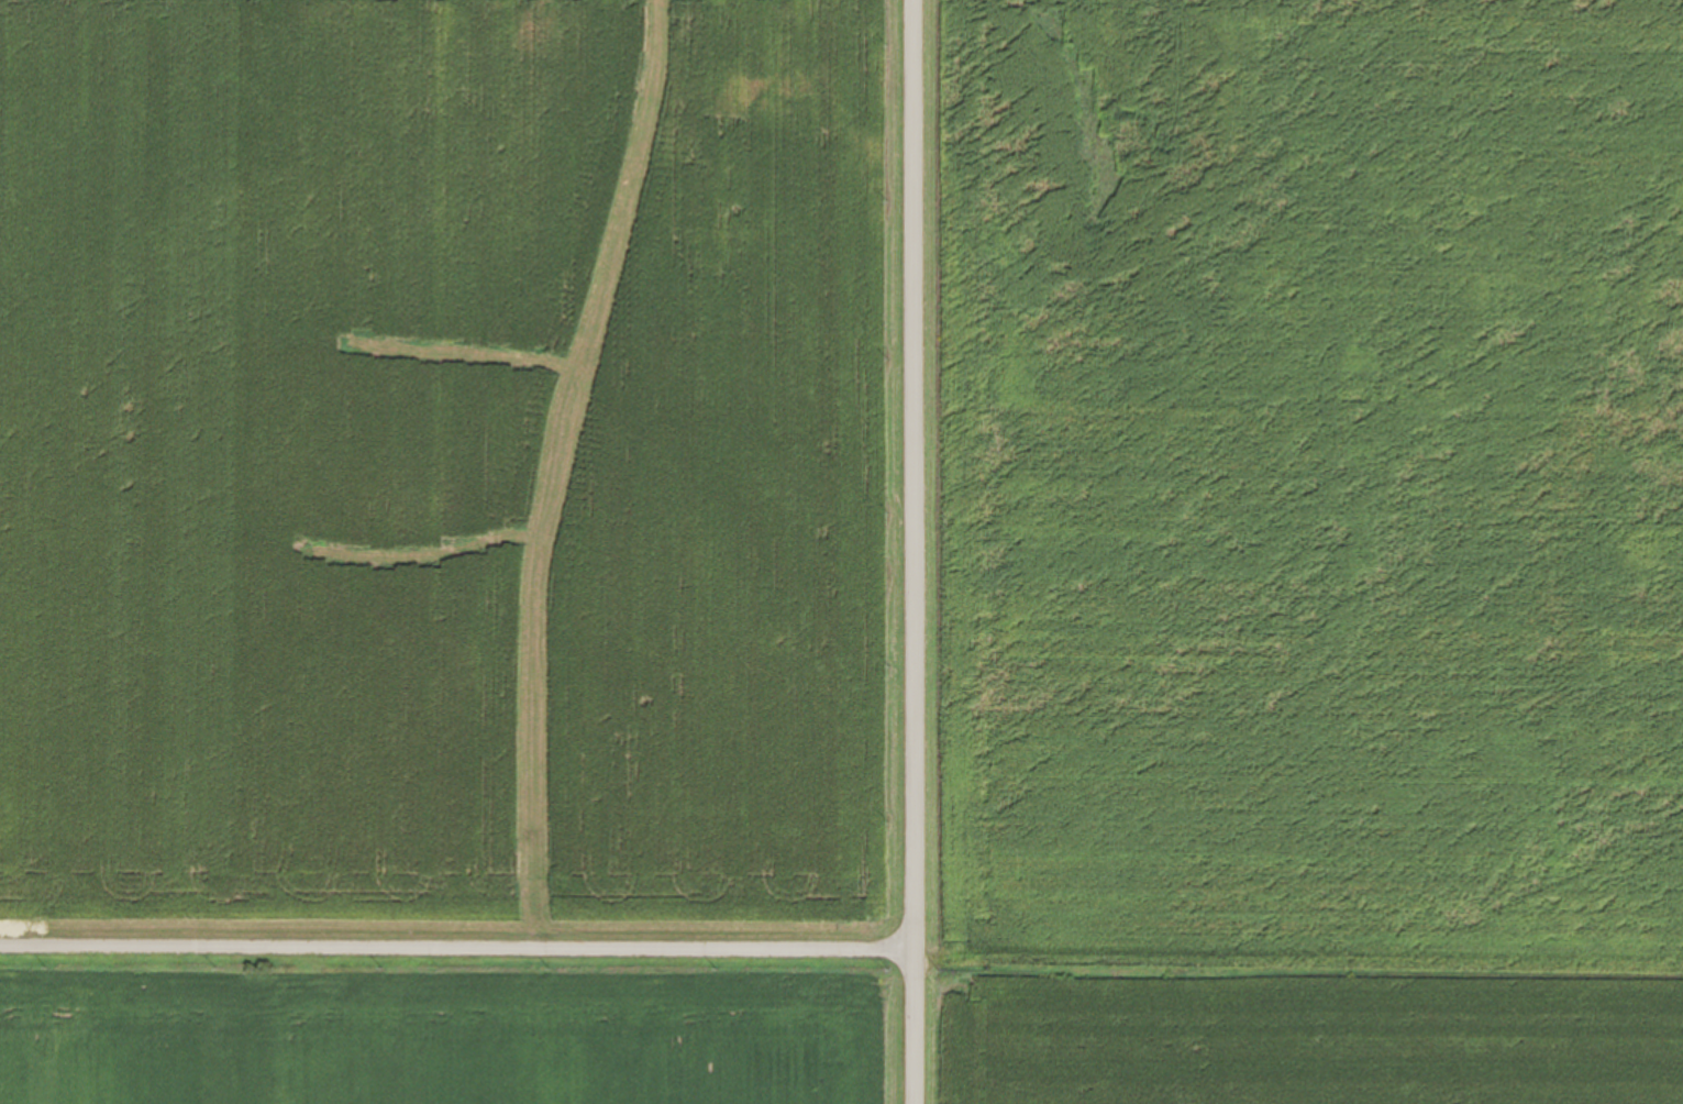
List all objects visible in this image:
road: (906, 552)
road: (452, 967)

